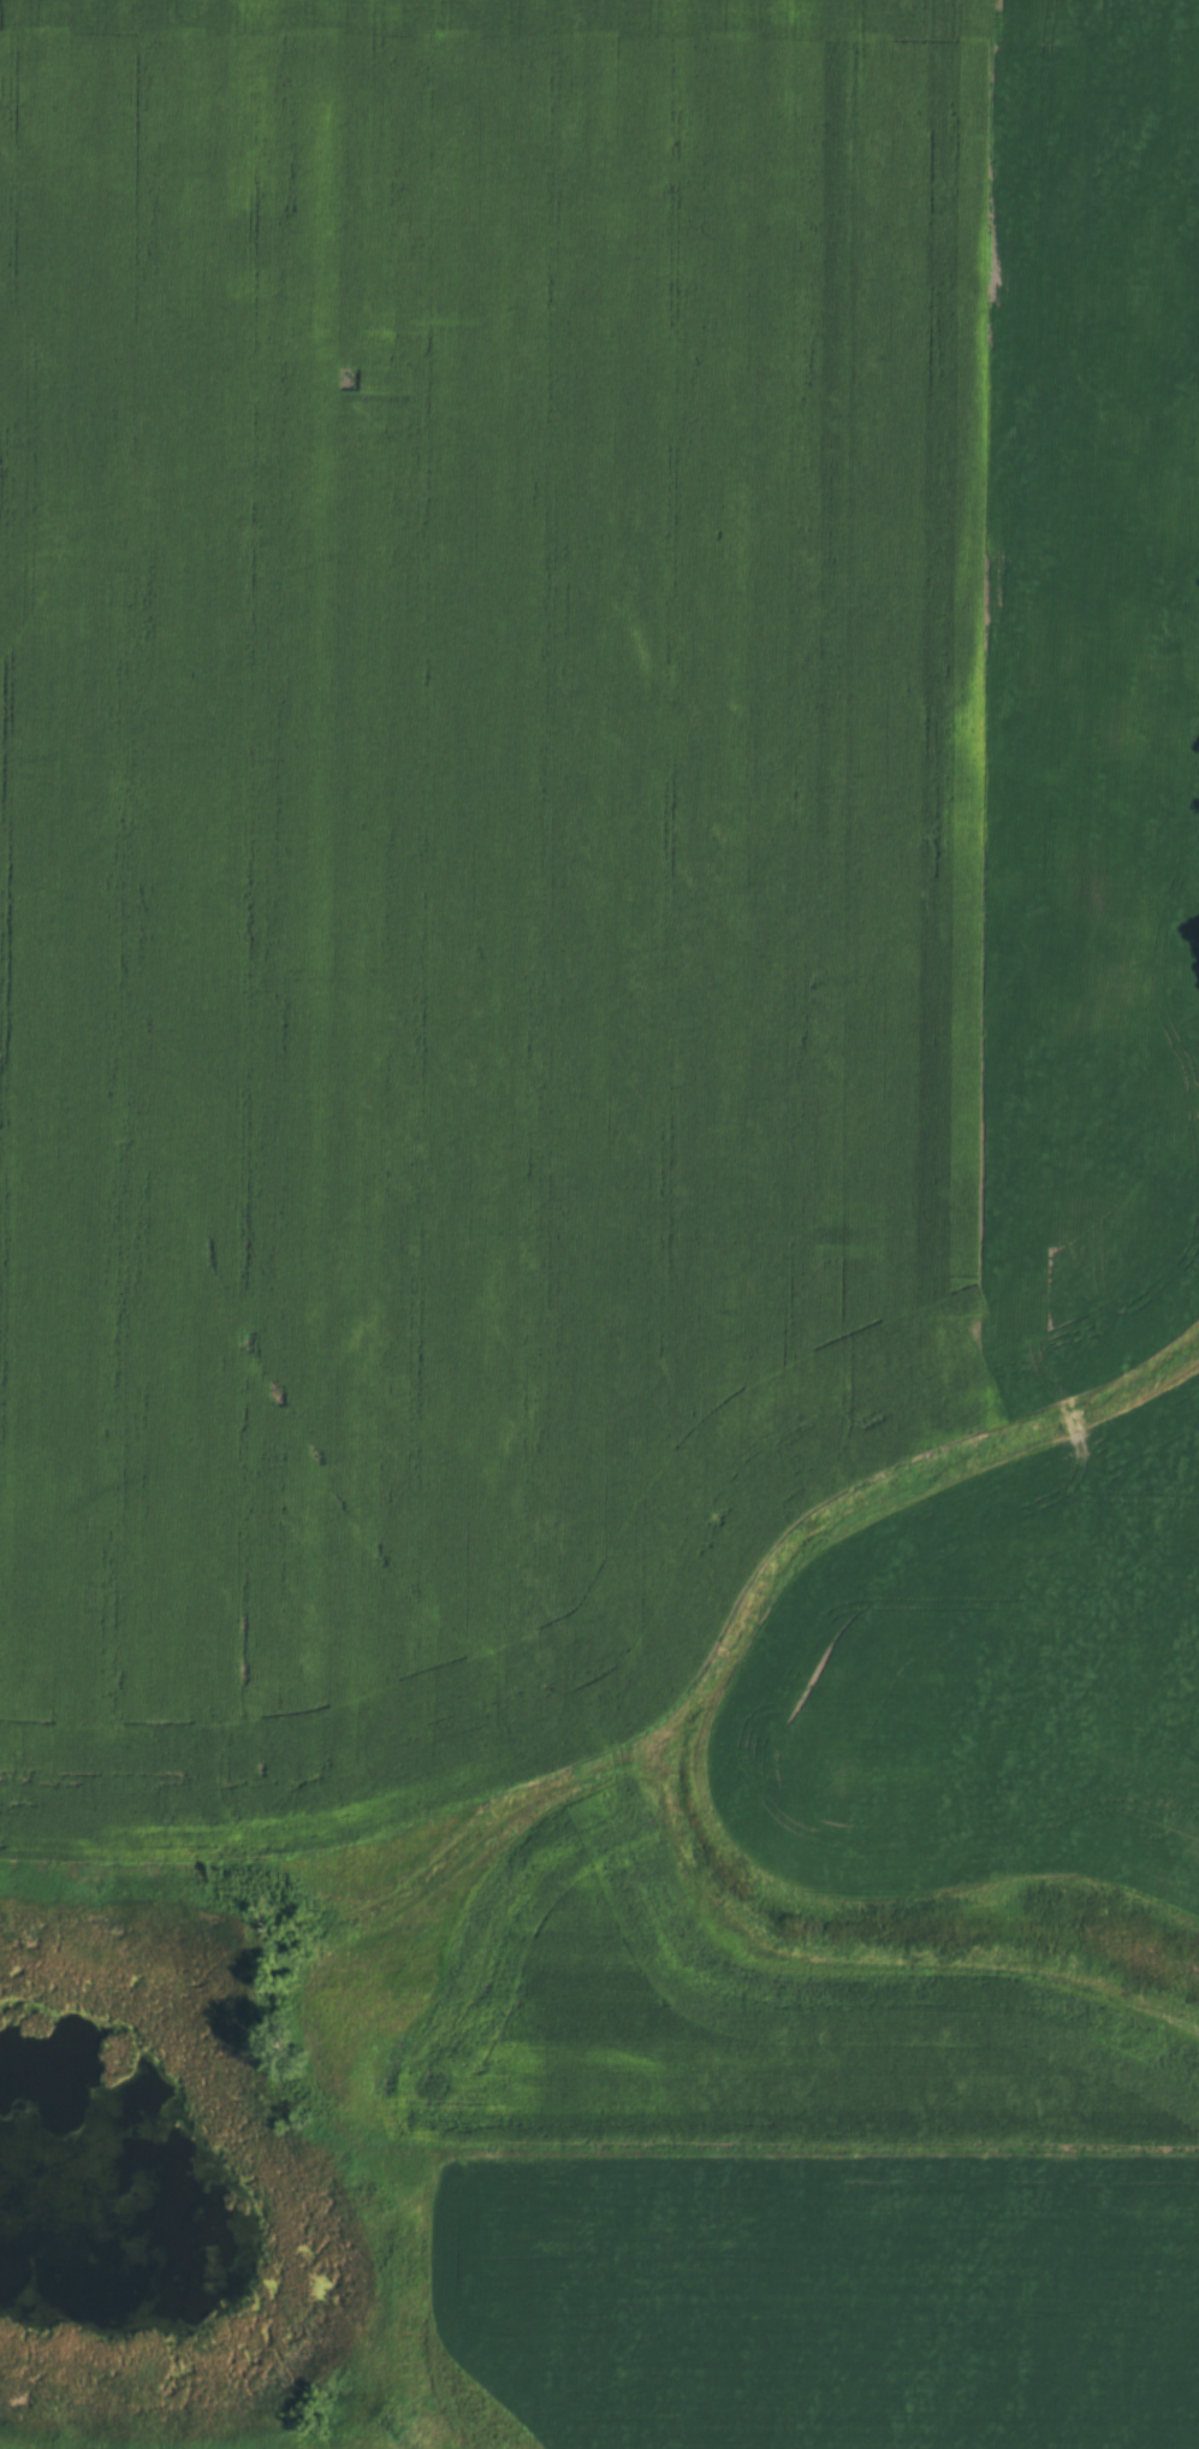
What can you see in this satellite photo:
river: (40, 2126)
river: (203, 2220)

